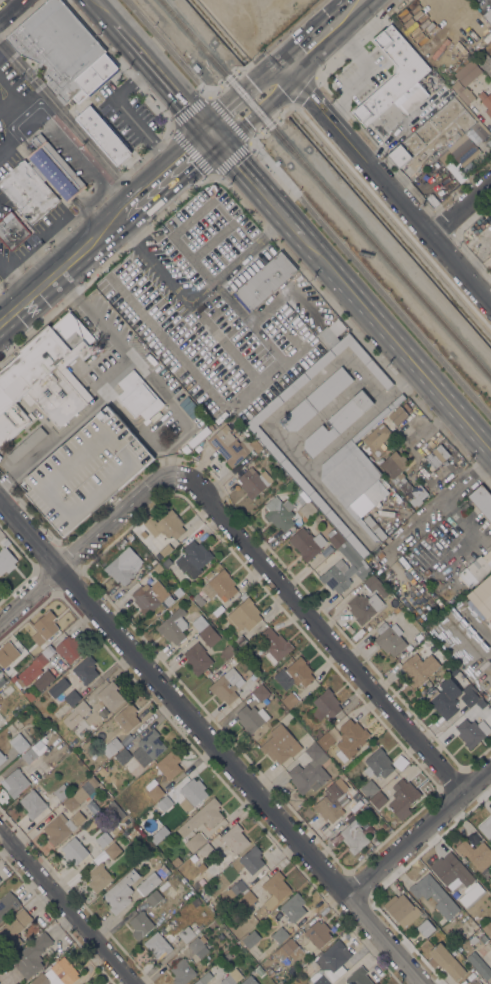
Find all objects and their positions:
road: (9, 8)
road: (346, 11)
road: (107, 12)
building: (488, 15)
airport: (255, 18)
road: (310, 43)
road: (165, 48)
building: (61, 51)
building: (484, 62)
traffic signals: (287, 64)
building: (467, 72)
road: (163, 77)
building: (450, 79)
road: (5, 90)
building: (388, 92)
building: (462, 92)
road: (29, 93)
road: (247, 96)
road: (5, 100)
building: (486, 101)
building: (454, 104)
road: (122, 112)
road: (67, 119)
road: (227, 119)
building: (388, 119)
building: (471, 122)
traffic signals: (209, 131)
building: (102, 134)
road: (191, 151)
building: (461, 151)
building: (399, 155)
road: (165, 170)
road: (389, 179)
building: (40, 180)
road: (254, 183)
railway: (325, 188)
building: (432, 199)
road: (463, 208)
building: (172, 222)
road: (57, 225)
building: (12, 231)
road: (205, 247)
road: (248, 248)
road: (31, 249)
road: (152, 259)
road: (60, 264)
road: (13, 278)
road: (370, 278)
building: (264, 281)
road: (202, 291)
road: (395, 344)
building: (44, 376)
building: (138, 395)
building: (315, 399)
building: (397, 414)
building: (337, 423)
building: (199, 436)
building: (377, 438)
road: (283, 441)
building: (26, 444)
building: (229, 445)
building: (0, 456)
building: (436, 456)
building: (86, 470)
building: (354, 474)
building: (403, 478)
building: (254, 481)
building: (307, 488)
road: (439, 501)
building: (481, 501)
building: (306, 509)
building: (280, 512)
building: (164, 524)
road: (464, 528)
building: (130, 536)
building: (336, 539)
building: (4, 540)
road: (91, 542)
building: (121, 543)
building: (306, 543)
building: (165, 549)
building: (193, 558)
building: (6, 560)
building: (123, 565)
building: (157, 568)
building: (476, 569)
building: (344, 570)
building: (376, 585)
building: (220, 586)
building: (149, 596)
building: (482, 596)
building: (364, 606)
building: (215, 612)
building: (243, 614)
building: (199, 623)
building: (173, 626)
building: (44, 627)
building: (209, 635)
road: (324, 635)
building: (419, 637)
building: (389, 638)
building: (274, 644)
building: (409, 646)
building: (69, 648)
building: (227, 651)
building: (8, 653)
building: (197, 658)
building: (60, 664)
building: (419, 667)
building: (33, 668)
building: (86, 669)
building: (454, 670)
building: (294, 673)
building: (14, 678)
building: (2, 680)
building: (257, 680)
building: (41, 682)
building: (227, 685)
building: (57, 687)
building: (261, 692)
building: (29, 695)
building: (469, 695)
building: (110, 696)
building: (72, 697)
building: (445, 698)
building: (289, 700)
building: (325, 704)
building: (81, 708)
building: (127, 717)
building: (251, 718)
building: (472, 731)
building: (323, 738)
building: (126, 739)
building: (350, 739)
building: (19, 742)
road: (209, 742)
building: (151, 743)
building: (280, 744)
building: (111, 746)
building: (33, 751)
building: (123, 755)
building: (2, 757)
building: (399, 761)
building: (378, 763)
building: (169, 764)
building: (309, 771)
building: (16, 782)
building: (369, 788)
building: (193, 790)
building: (62, 791)
building: (155, 792)
building: (80, 793)
building: (356, 796)
building: (402, 797)
building: (379, 799)
building: (332, 800)
building: (33, 803)
building: (164, 803)
building: (116, 809)
building: (202, 816)
building: (62, 826)
building: (486, 827)
road: (417, 831)
building: (354, 835)
building: (235, 838)
building: (103, 839)
building: (195, 841)
building: (112, 849)
building: (74, 850)
building: (205, 850)
building: (475, 853)
building: (252, 859)
building: (98, 877)
building: (0, 879)
building: (466, 879)
building: (148, 883)
building: (236, 888)
building: (278, 890)
building: (120, 891)
building: (434, 895)
building: (154, 897)
building: (7, 904)
road: (68, 906)
building: (293, 906)
building: (401, 909)
building: (262, 915)
building: (140, 924)
building: (468, 926)
building: (425, 927)
building: (14, 928)
building: (487, 928)
building: (186, 933)
building: (318, 933)
building: (279, 934)
building: (249, 939)
building: (473, 939)
building: (482, 939)
building: (157, 946)
building: (198, 947)
building: (288, 949)
building: (229, 954)
building: (31, 955)
building: (445, 960)
building: (330, 963)
building: (479, 964)
building: (259, 970)
building: (182, 971)
building: (57, 974)
building: (358, 976)
building: (231, 977)
building: (203, 978)
building: (249, 980)
building: (477, 982)
building: (15, 983)
building: (237, 983)

